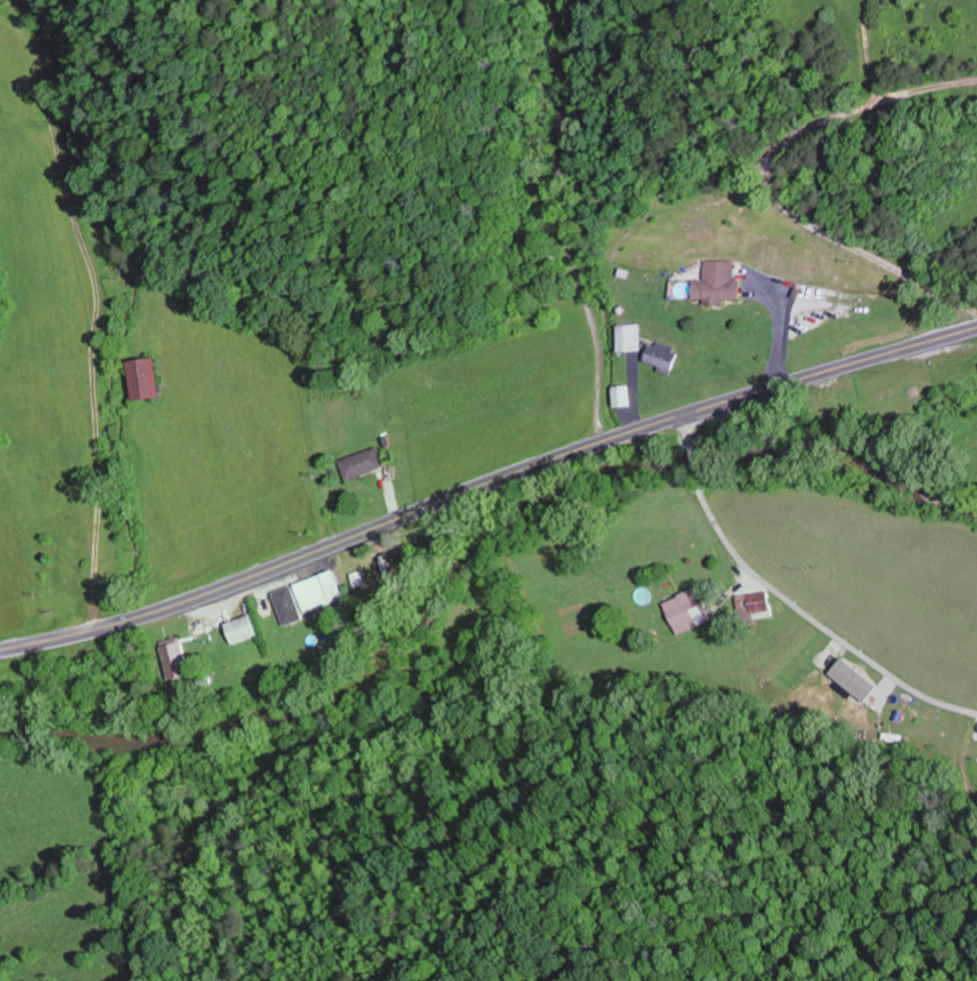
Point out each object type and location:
building: (568, 125)
road: (872, 170)
road: (557, 223)
building: (542, 262)
building: (715, 284)
building: (629, 340)
building: (661, 357)
building: (142, 379)
building: (620, 396)
road: (687, 431)
road: (692, 460)
building: (358, 464)
road: (486, 485)
building: (384, 570)
building: (307, 597)
building: (753, 607)
building: (686, 611)
road: (812, 618)
building: (240, 629)
building: (174, 659)
building: (854, 681)

